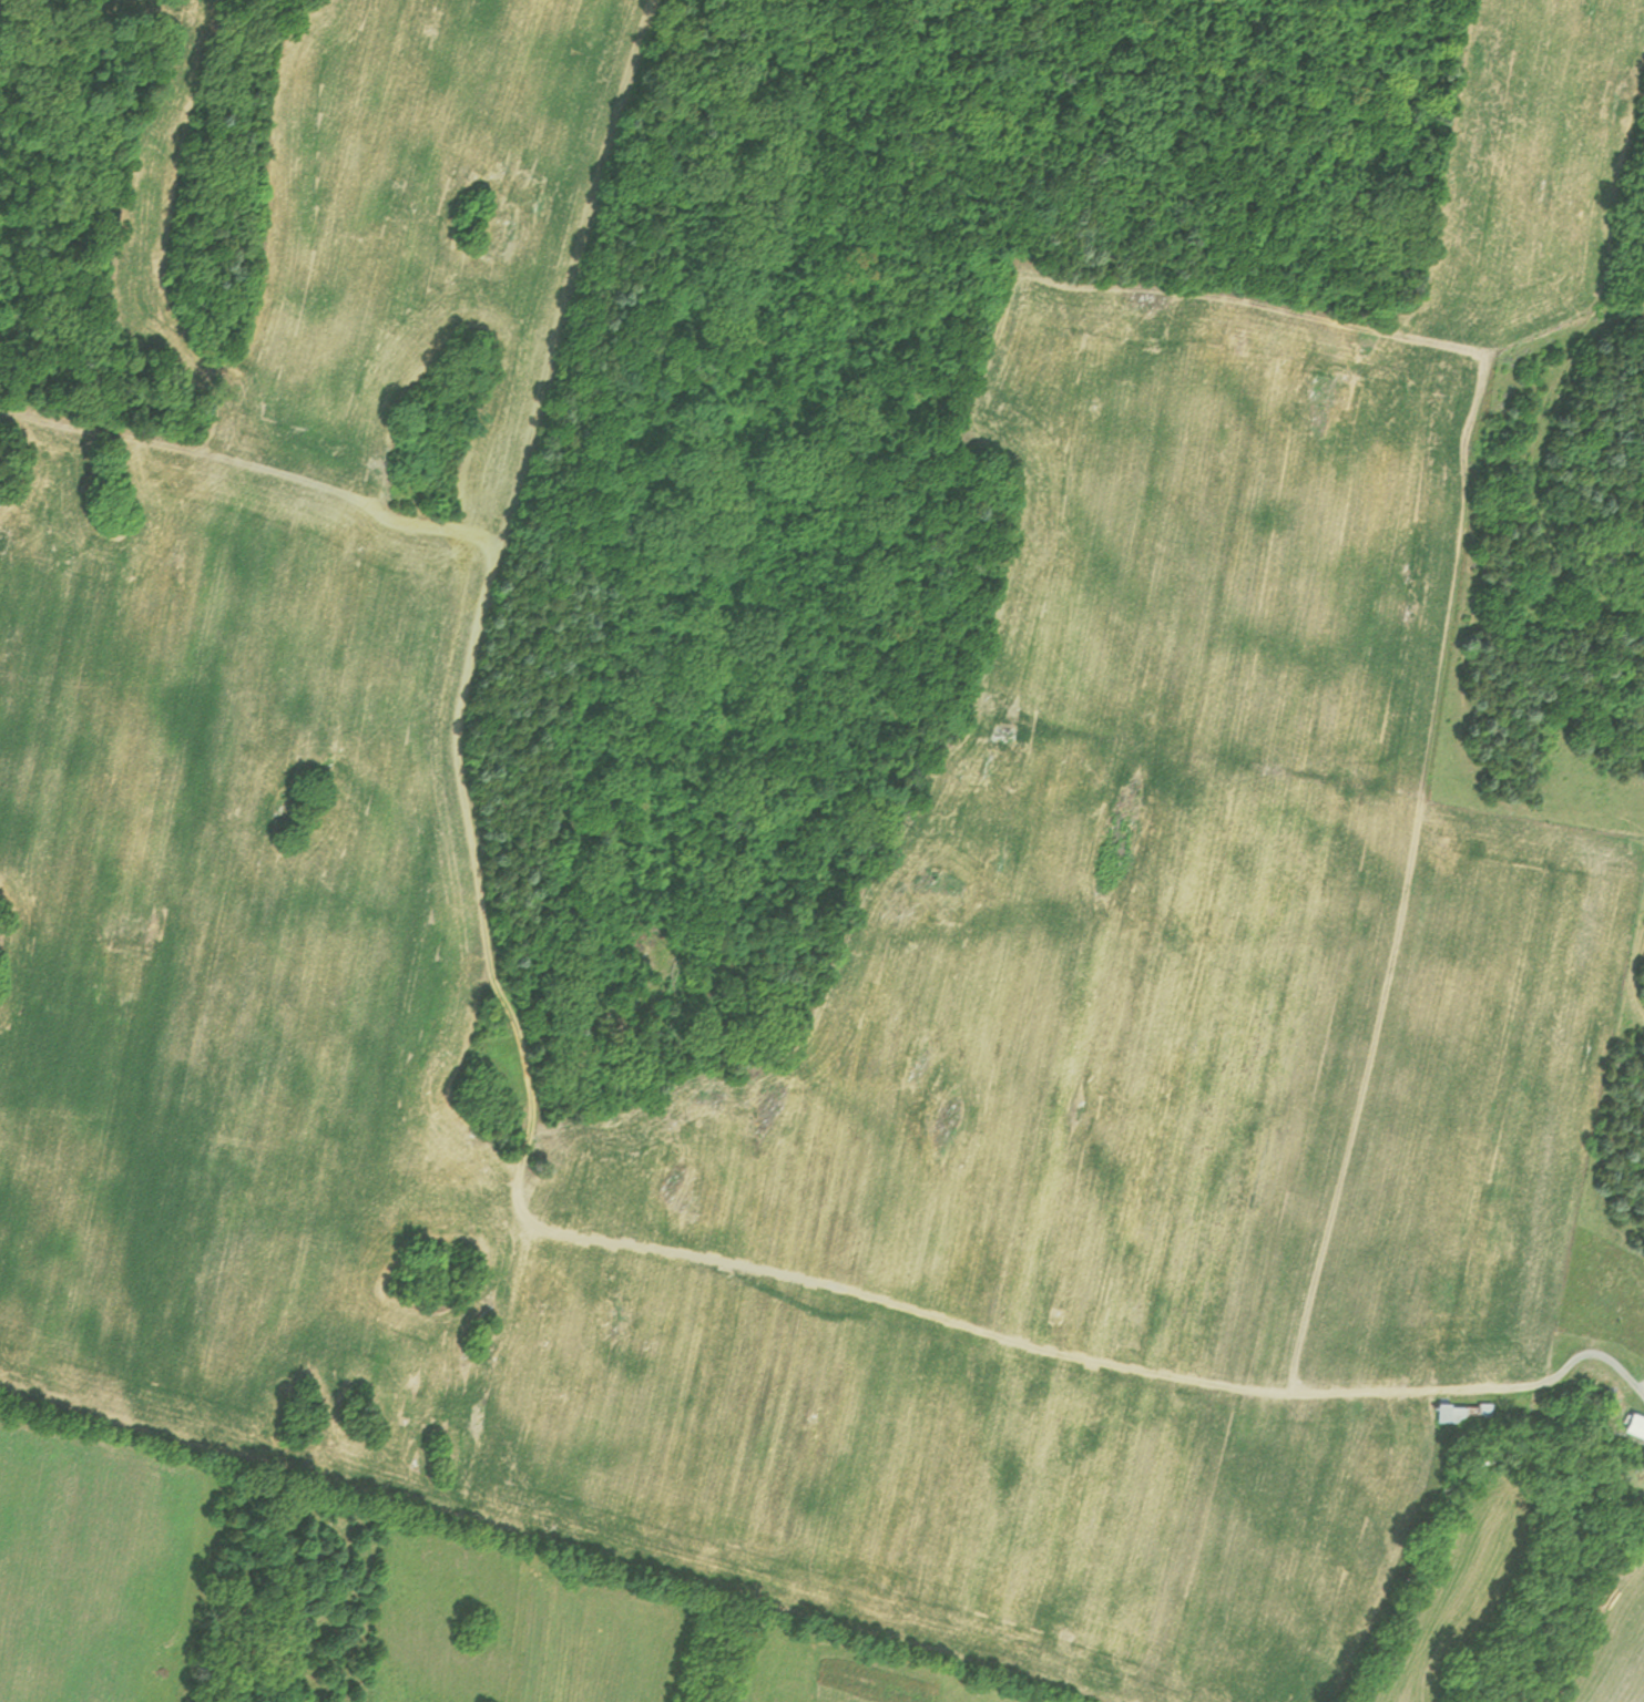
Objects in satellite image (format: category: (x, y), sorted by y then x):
road: (1592, 1353)
building: (1459, 1413)
building: (308, 1552)

